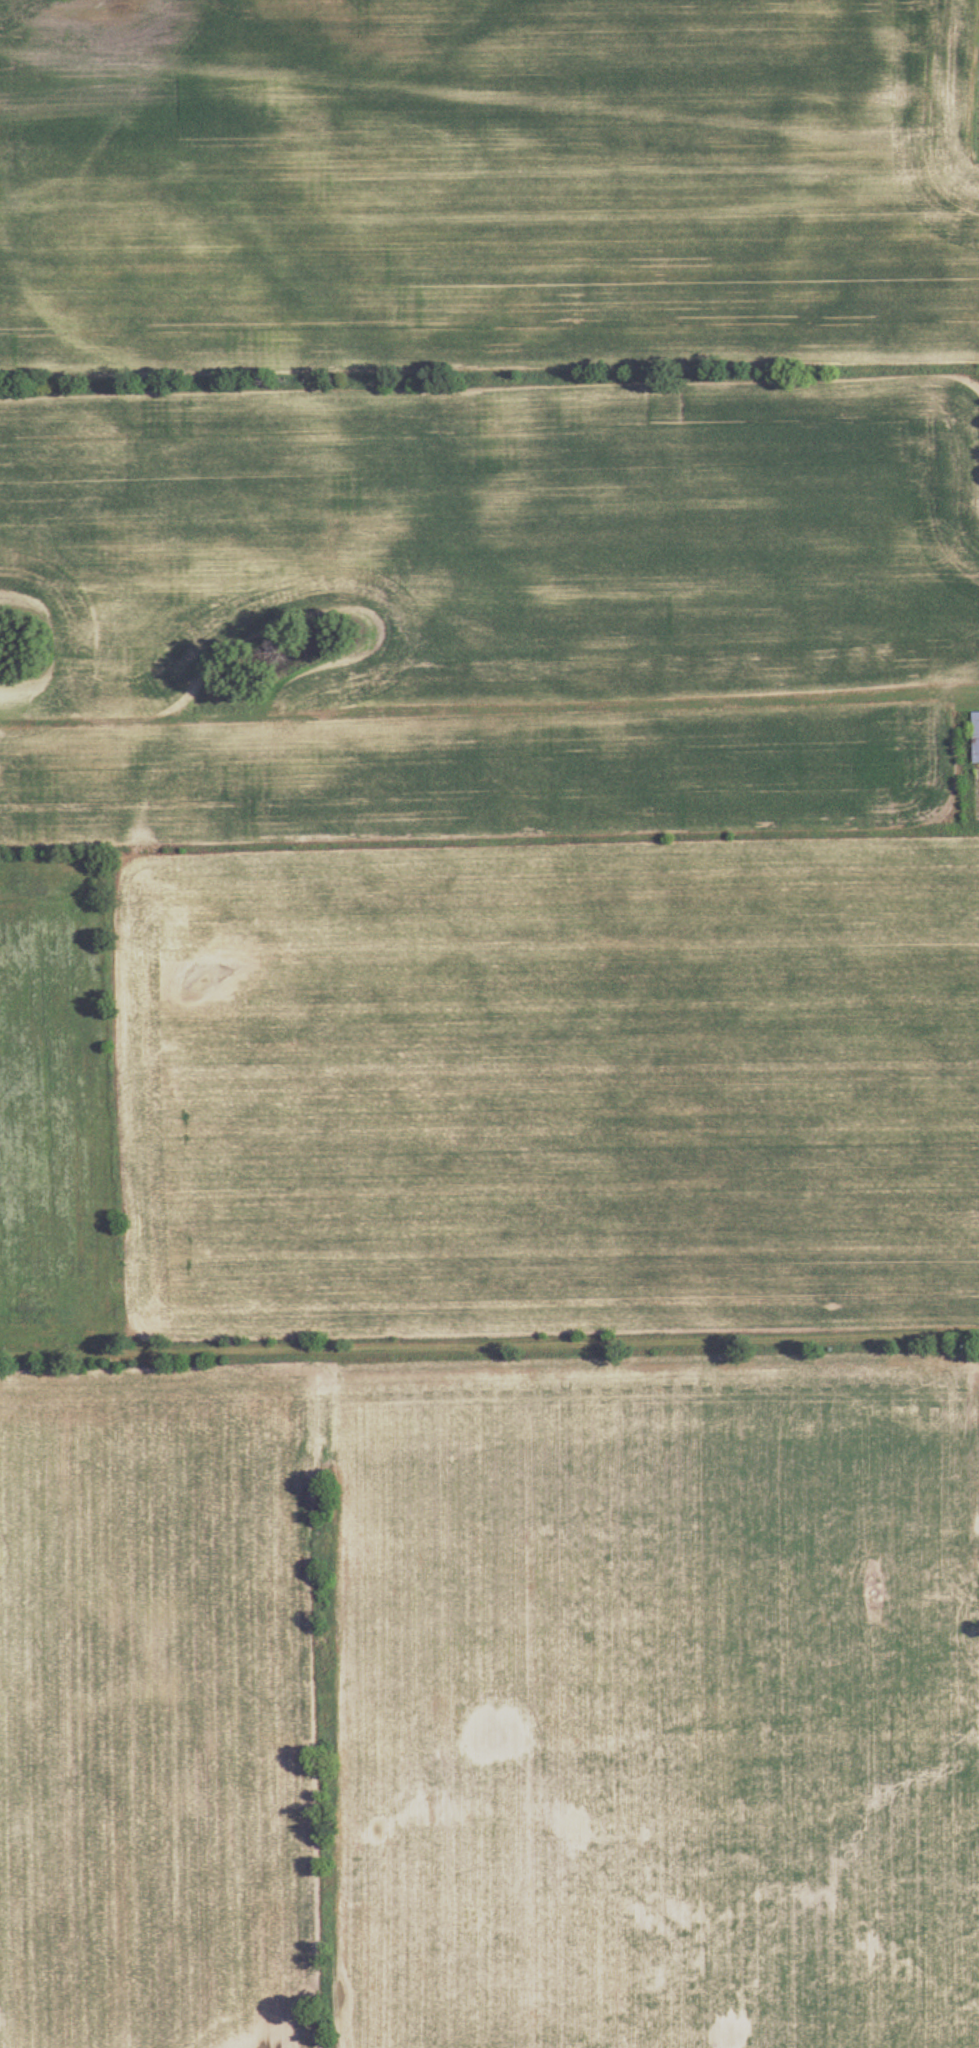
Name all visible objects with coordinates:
building: (976, 738)

